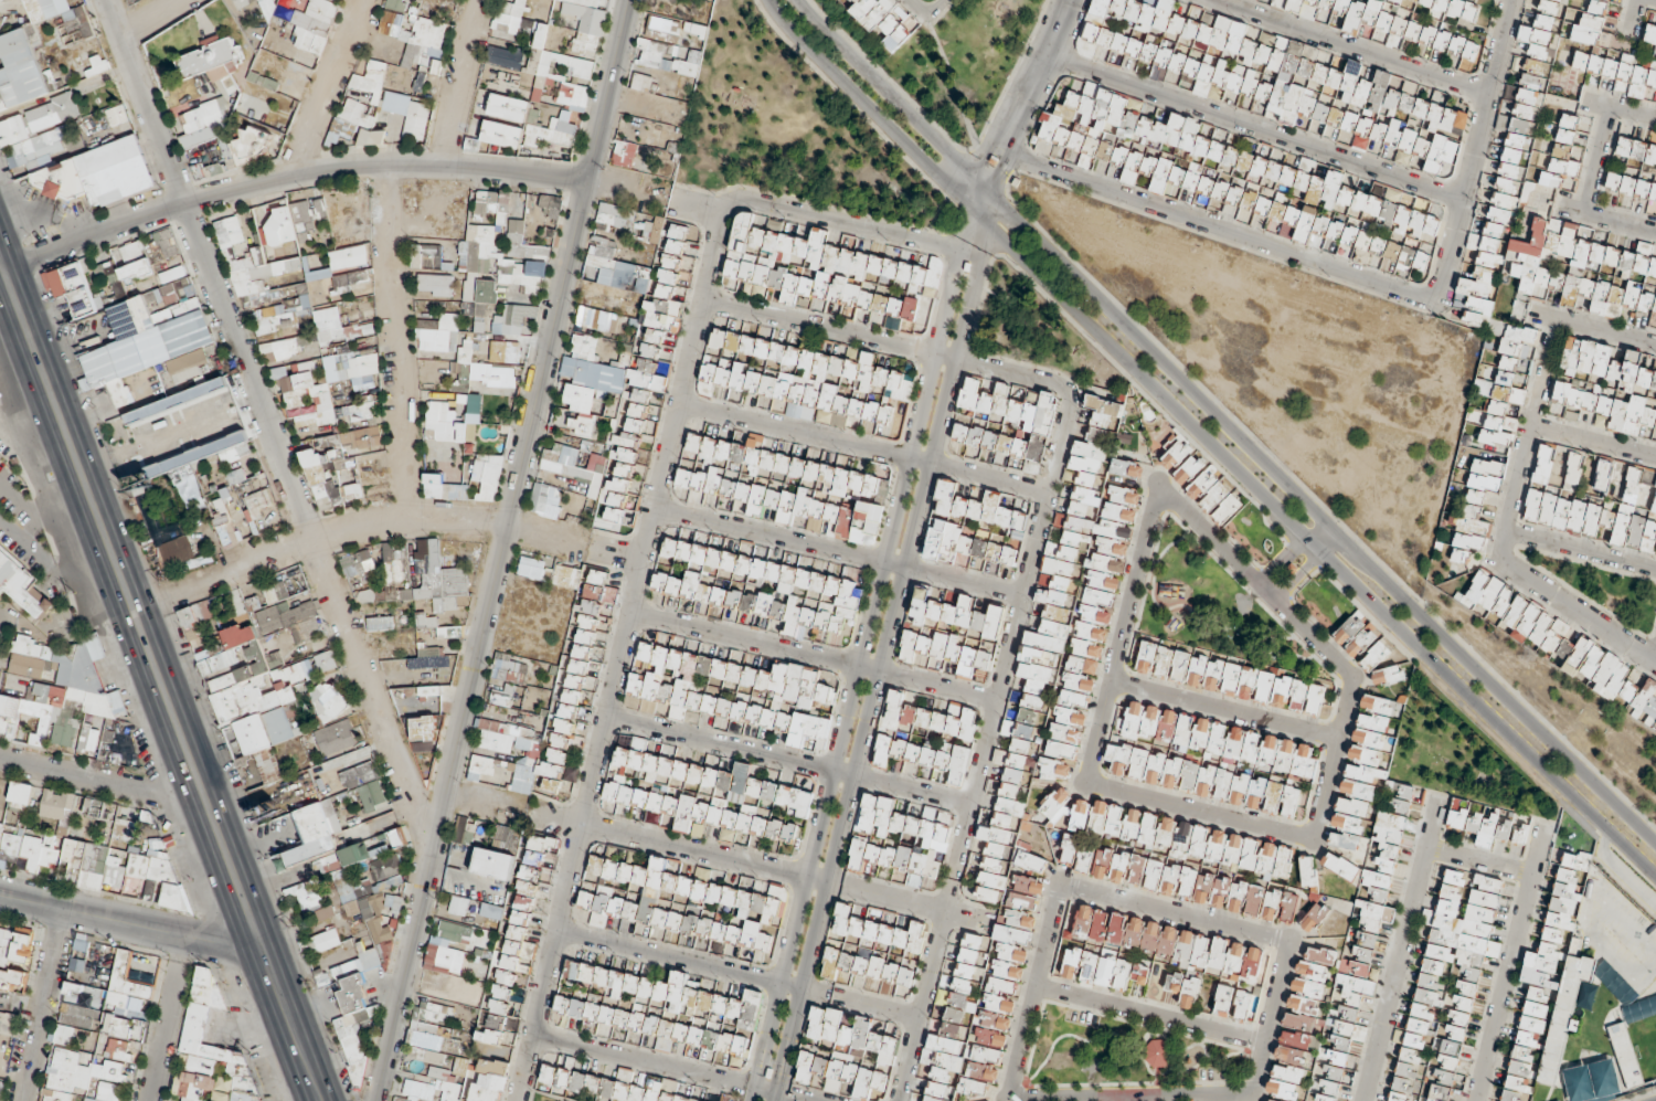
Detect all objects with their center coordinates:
park: (1562, 700)
park: (1122, 1049)
park: (541, 1099)

